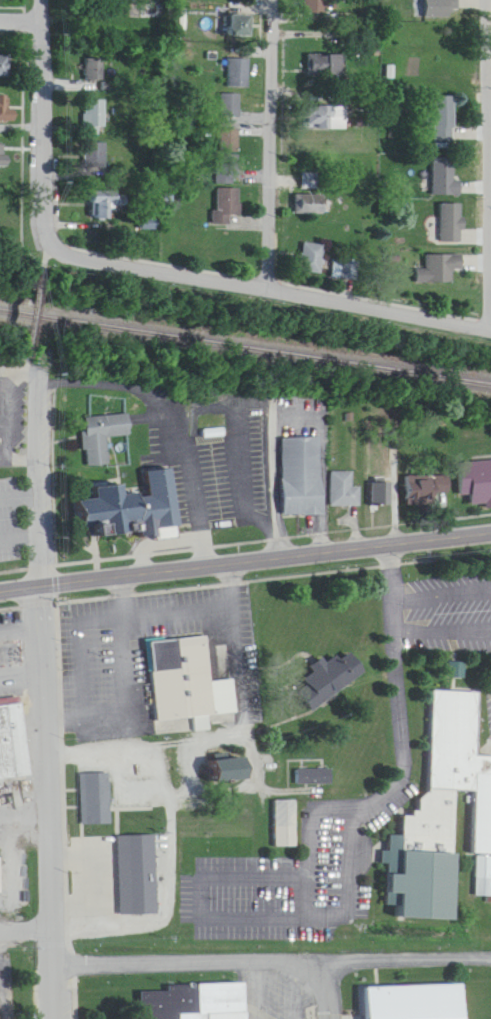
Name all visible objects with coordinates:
building: (317, 6)
road: (18, 8)
building: (238, 26)
road: (301, 28)
building: (322, 66)
building: (3, 67)
building: (91, 70)
building: (235, 72)
building: (227, 106)
road: (36, 108)
building: (4, 112)
building: (91, 114)
building: (321, 118)
building: (443, 120)
road: (15, 133)
road: (272, 140)
building: (226, 141)
building: (1, 157)
building: (443, 178)
road: (488, 180)
building: (306, 182)
building: (222, 206)
building: (104, 208)
building: (308, 209)
building: (448, 224)
road: (39, 251)
building: (308, 259)
road: (267, 268)
building: (436, 270)
building: (341, 271)
road: (257, 278)
road: (31, 316)
railway: (245, 337)
road: (28, 371)
road: (212, 393)
building: (105, 437)
building: (473, 468)
road: (57, 473)
road: (276, 477)
building: (303, 477)
road: (42, 478)
road: (21, 482)
building: (425, 490)
building: (345, 491)
building: (124, 494)
building: (382, 495)
road: (21, 524)
road: (245, 530)
road: (245, 561)
road: (245, 570)
road: (442, 581)
parking lot: (450, 600)
road: (111, 607)
road: (22, 615)
road: (444, 620)
parking lot: (17, 648)
road: (23, 657)
building: (325, 663)
building: (180, 671)
road: (129, 682)
building: (329, 682)
parking lot: (489, 685)
building: (11, 729)
road: (100, 737)
road: (156, 749)
building: (220, 755)
building: (314, 763)
building: (235, 772)
building: (316, 778)
building: (92, 784)
road: (244, 787)
road: (25, 801)
building: (440, 801)
road: (51, 802)
road: (68, 804)
building: (285, 810)
road: (311, 843)
road: (95, 858)
building: (133, 860)
road: (352, 864)
parking lot: (295, 866)
road: (27, 918)
parking lot: (4, 930)
road: (273, 951)
park: (28, 968)
road: (260, 984)
road: (300, 985)
road: (327, 986)
parking lot: (275, 990)
building: (186, 993)
building: (410, 995)
park: (2, 1008)
road: (295, 1012)

